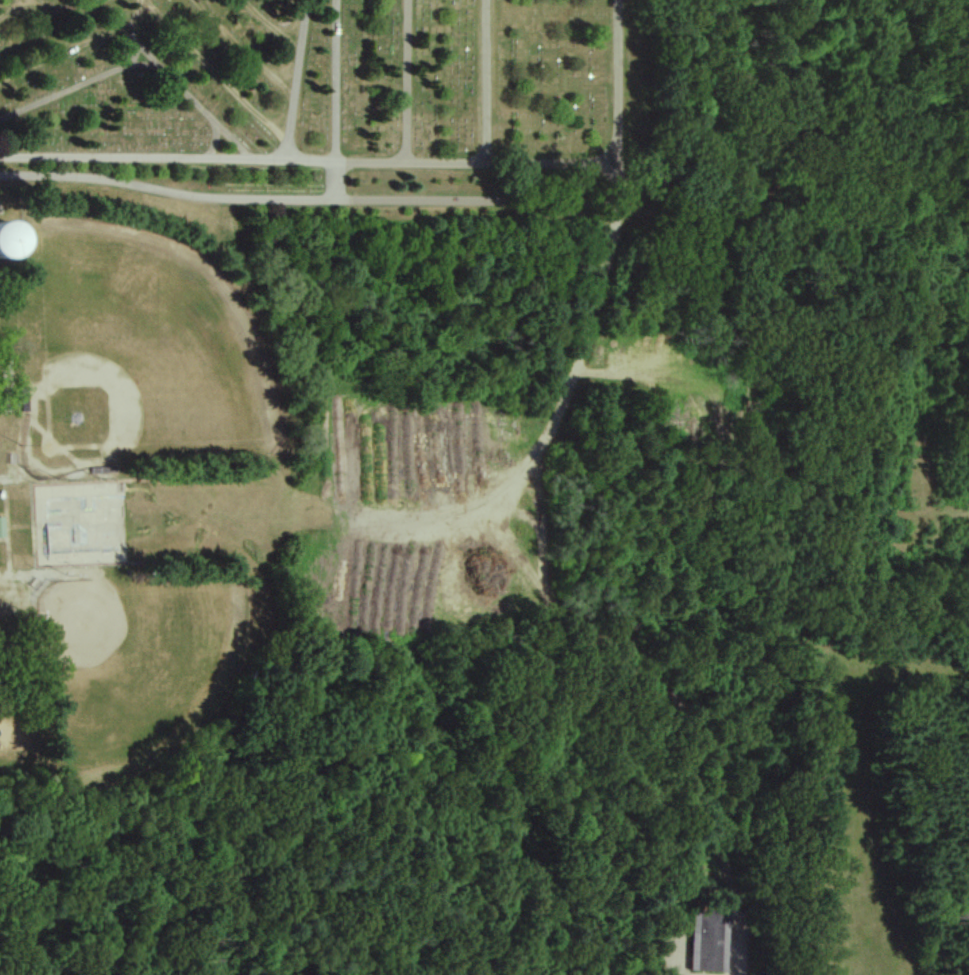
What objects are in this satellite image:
road: (2, 6)
road: (51, 10)
road: (139, 25)
road: (70, 53)
road: (137, 54)
road: (214, 72)
road: (296, 78)
road: (330, 79)
road: (401, 80)
road: (479, 80)
road: (618, 81)
park: (311, 99)
park: (808, 116)
road: (209, 143)
road: (309, 158)
road: (331, 180)
road: (325, 201)
building: (12, 237)
park: (137, 362)
park: (299, 516)
building: (2, 527)
park: (132, 662)
building: (705, 936)

